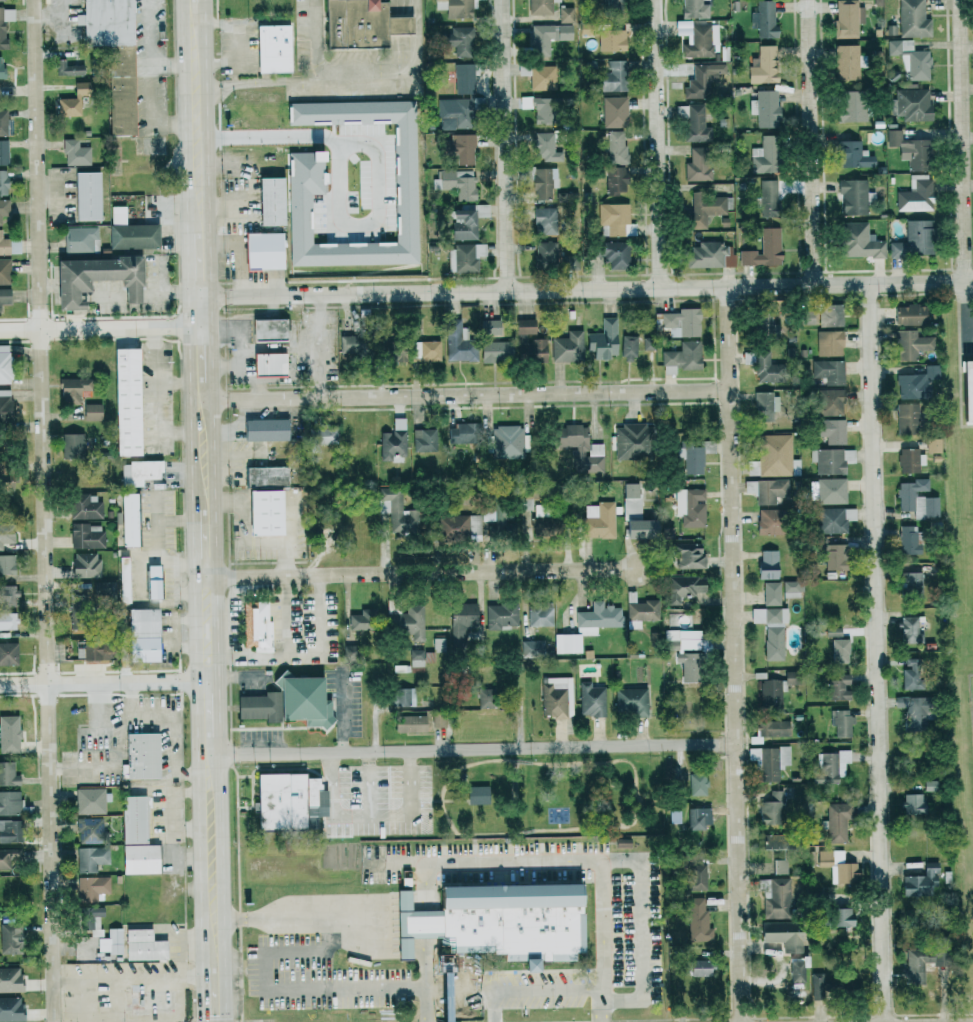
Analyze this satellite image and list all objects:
building: (1, 0)
road: (206, 2)
building: (612, 4)
building: (540, 7)
building: (455, 8)
building: (695, 9)
building: (565, 14)
building: (848, 18)
building: (911, 18)
building: (764, 20)
building: (110, 22)
building: (358, 23)
building: (5, 24)
building: (401, 24)
building: (547, 37)
building: (611, 38)
building: (459, 40)
building: (702, 41)
building: (275, 47)
building: (911, 59)
building: (0, 60)
building: (847, 62)
road: (168, 65)
building: (762, 66)
building: (67, 68)
building: (524, 69)
road: (401, 74)
road: (152, 77)
building: (543, 77)
building: (614, 77)
road: (302, 79)
building: (698, 83)
building: (80, 89)
building: (123, 90)
building: (458, 100)
building: (913, 104)
building: (68, 106)
building: (852, 106)
building: (538, 107)
building: (765, 108)
building: (614, 112)
building: (3, 122)
road: (184, 122)
building: (694, 123)
road: (960, 141)
road: (815, 143)
road: (660, 144)
road: (505, 145)
building: (542, 145)
building: (616, 146)
building: (460, 147)
building: (910, 150)
building: (3, 152)
building: (75, 152)
building: (853, 155)
building: (765, 156)
road: (210, 163)
building: (698, 164)
building: (616, 180)
building: (3, 182)
building: (458, 182)
building: (544, 182)
road: (342, 191)
building: (916, 194)
building: (86, 195)
building: (853, 196)
building: (769, 197)
building: (274, 201)
building: (4, 208)
building: (704, 209)
building: (545, 220)
building: (615, 220)
building: (464, 224)
building: (130, 232)
building: (918, 236)
building: (81, 240)
building: (859, 240)
building: (4, 245)
building: (765, 249)
building: (266, 250)
building: (546, 253)
building: (612, 253)
building: (711, 255)
building: (462, 258)
building: (570, 261)
building: (4, 270)
road: (187, 270)
building: (95, 278)
road: (580, 289)
building: (4, 296)
road: (963, 311)
road: (253, 313)
building: (835, 314)
building: (910, 314)
building: (764, 319)
road: (228, 322)
building: (680, 322)
road: (106, 325)
building: (525, 326)
building: (490, 327)
building: (273, 329)
building: (603, 339)
building: (829, 342)
road: (322, 343)
building: (458, 343)
building: (648, 343)
building: (911, 344)
road: (274, 345)
building: (352, 346)
building: (391, 347)
building: (568, 347)
building: (628, 348)
building: (425, 350)
building: (496, 351)
building: (533, 351)
building: (682, 357)
road: (213, 359)
building: (273, 363)
building: (4, 364)
road: (233, 364)
building: (765, 368)
building: (829, 371)
road: (172, 381)
building: (916, 383)
building: (967, 388)
building: (73, 389)
road: (459, 391)
road: (155, 395)
building: (130, 401)
building: (829, 402)
road: (189, 403)
building: (763, 404)
building: (3, 405)
building: (92, 411)
building: (908, 418)
building: (269, 429)
building: (831, 430)
building: (462, 433)
building: (325, 435)
building: (424, 440)
building: (630, 441)
building: (393, 442)
building: (507, 442)
building: (72, 444)
building: (933, 445)
building: (581, 448)
building: (849, 455)
building: (691, 456)
building: (774, 457)
building: (910, 459)
building: (828, 460)
building: (141, 472)
building: (5, 475)
building: (269, 476)
building: (767, 490)
building: (829, 490)
building: (917, 499)
building: (85, 506)
building: (690, 507)
road: (49, 510)
building: (396, 510)
building: (541, 511)
building: (268, 512)
building: (498, 514)
building: (636, 515)
building: (132, 518)
building: (834, 519)
building: (599, 520)
road: (244, 521)
building: (771, 521)
building: (458, 527)
building: (667, 532)
building: (6, 536)
building: (85, 537)
road: (217, 537)
building: (909, 539)
road: (194, 544)
road: (289, 544)
building: (830, 552)
building: (688, 555)
building: (6, 564)
building: (768, 564)
building: (85, 565)
road: (417, 572)
building: (126, 579)
building: (156, 580)
building: (910, 580)
building: (684, 588)
building: (792, 589)
building: (95, 590)
building: (771, 593)
building: (7, 594)
building: (640, 610)
building: (540, 614)
building: (500, 616)
building: (7, 620)
building: (358, 621)
building: (407, 622)
building: (461, 622)
building: (258, 624)
building: (588, 626)
building: (772, 630)
building: (910, 630)
building: (833, 632)
building: (146, 634)
building: (533, 647)
building: (94, 649)
road: (304, 650)
building: (840, 650)
building: (8, 653)
road: (879, 653)
road: (736, 654)
building: (416, 661)
building: (790, 678)
building: (910, 678)
road: (111, 680)
building: (839, 687)
building: (770, 690)
building: (404, 696)
building: (557, 697)
road: (222, 698)
building: (486, 698)
building: (307, 699)
building: (591, 700)
building: (631, 701)
building: (261, 706)
building: (917, 708)
road: (344, 711)
road: (376, 714)
building: (438, 721)
building: (841, 722)
building: (411, 723)
building: (773, 728)
building: (9, 734)
road: (522, 746)
road: (468, 751)
building: (144, 756)
building: (769, 761)
building: (830, 766)
building: (8, 774)
road: (199, 777)
building: (697, 783)
building: (477, 795)
building: (90, 801)
building: (10, 803)
building: (285, 803)
building: (911, 803)
road: (372, 815)
building: (137, 818)
building: (697, 818)
building: (310, 822)
building: (836, 822)
building: (9, 831)
building: (91, 831)
building: (772, 841)
building: (9, 856)
building: (91, 858)
building: (143, 859)
road: (568, 861)
building: (779, 866)
building: (838, 866)
road: (225, 869)
building: (694, 876)
building: (921, 881)
road: (425, 885)
building: (92, 888)
building: (776, 898)
building: (90, 916)
road: (413, 917)
building: (842, 917)
road: (313, 918)
building: (516, 920)
building: (698, 920)
building: (417, 924)
road: (426, 924)
road: (642, 926)
building: (780, 932)
building: (114, 942)
building: (146, 945)
building: (932, 957)
flagpole: (518, 964)
flagpole: (512, 965)
building: (698, 967)
road: (328, 969)
building: (797, 969)
road: (245, 971)
road: (131, 977)
building: (10, 979)
road: (426, 980)
road: (483, 988)
road: (81, 999)
road: (205, 999)
road: (257, 1001)
building: (10, 1009)

